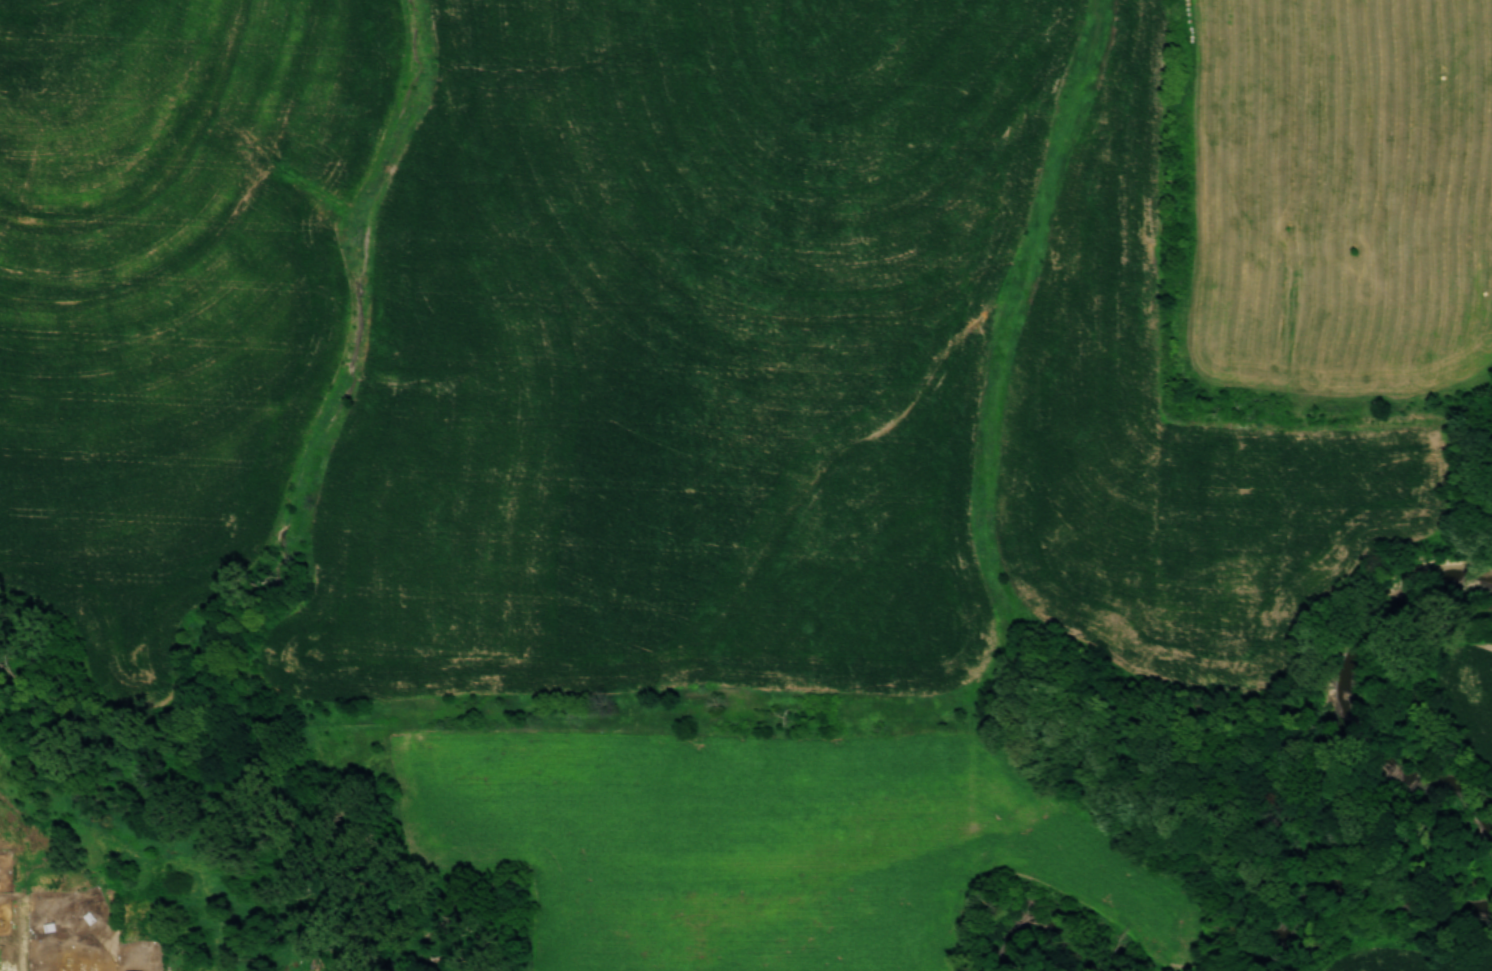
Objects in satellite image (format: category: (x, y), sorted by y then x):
building: (133, 969)

